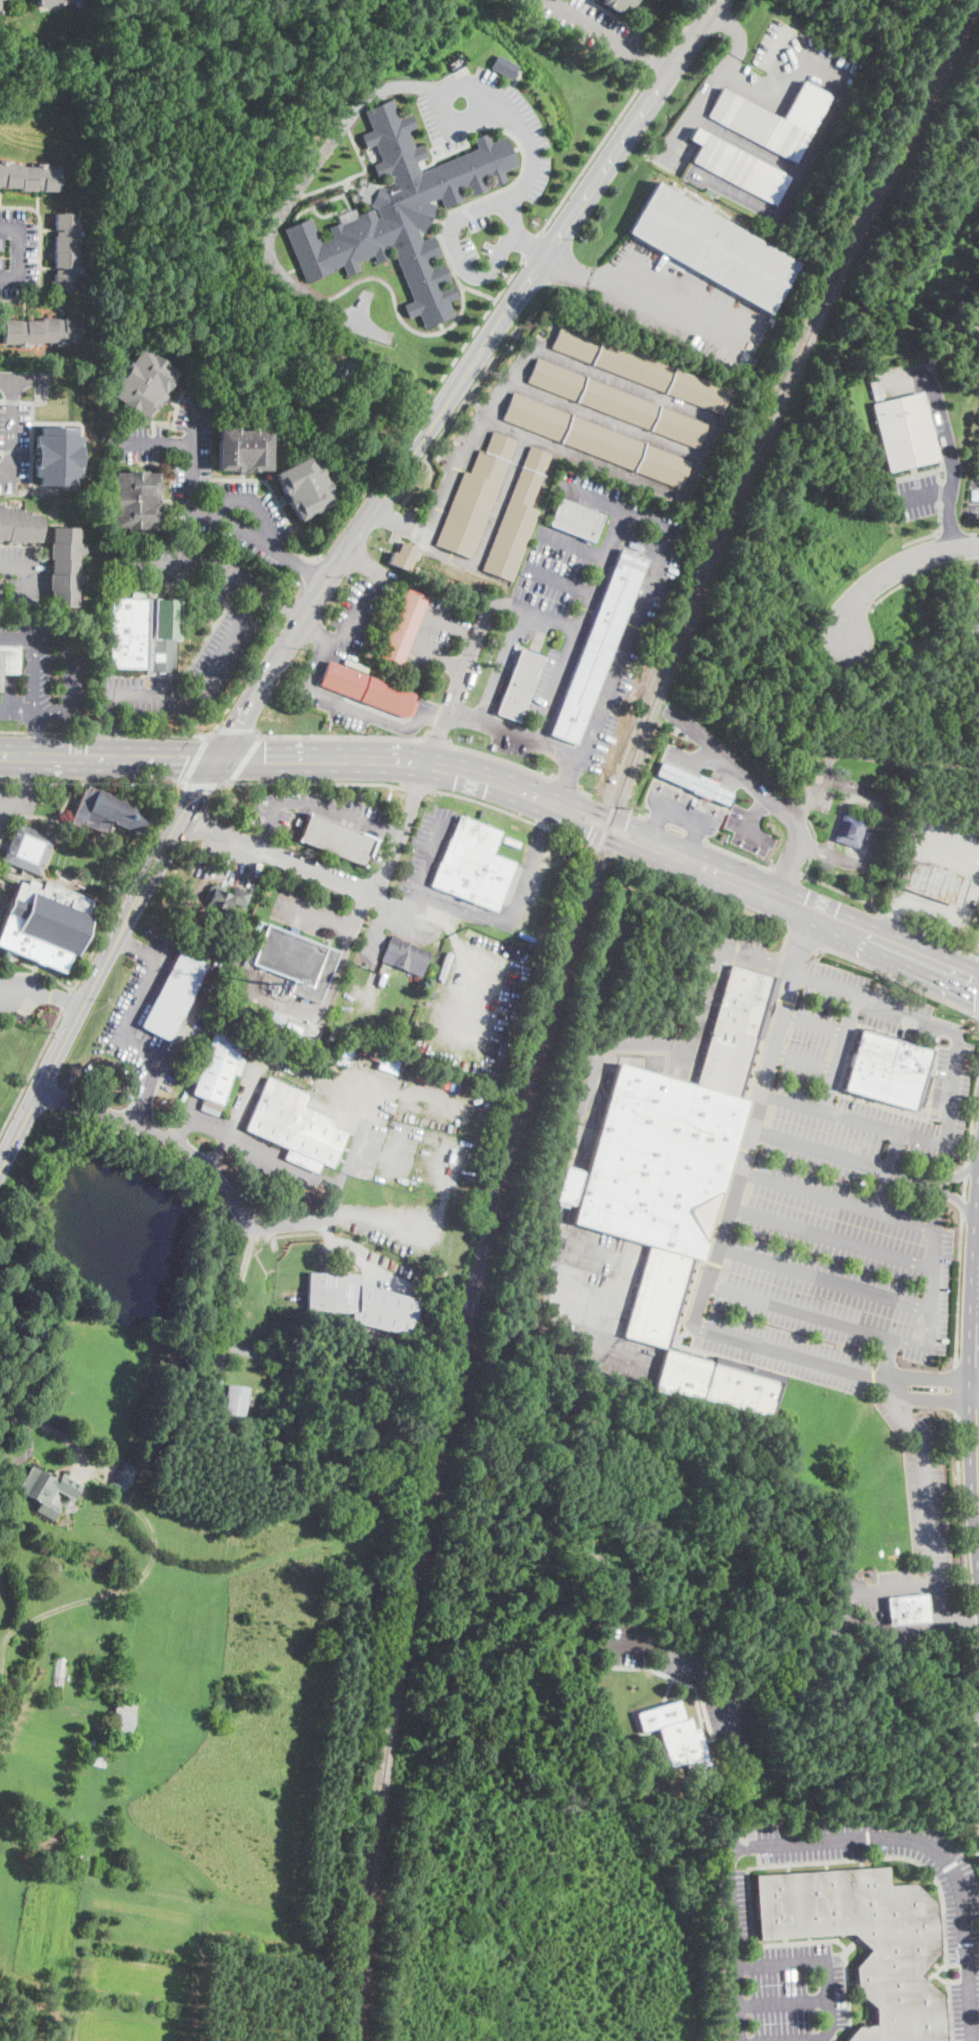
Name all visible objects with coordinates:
building: (52, 2)
building: (618, 4)
parking lot: (590, 26)
road: (680, 28)
road: (606, 38)
building: (502, 66)
road: (654, 66)
road: (717, 83)
road: (492, 96)
road: (785, 97)
parking lot: (484, 118)
building: (773, 118)
road: (593, 155)
building: (738, 165)
building: (29, 177)
road: (290, 195)
building: (402, 212)
road: (532, 244)
road: (532, 245)
building: (714, 247)
road: (455, 249)
parking lot: (18, 251)
building: (67, 251)
road: (20, 252)
road: (641, 301)
parking lot: (677, 303)
building: (976, 318)
road: (481, 322)
building: (43, 331)
building: (640, 369)
road: (465, 375)
parking lot: (904, 379)
building: (142, 383)
road: (632, 387)
building: (315, 389)
road: (1, 399)
building: (361, 399)
road: (10, 400)
building: (616, 403)
road: (194, 420)
road: (11, 429)
building: (905, 430)
road: (30, 435)
building: (596, 440)
parking lot: (13, 445)
road: (15, 447)
building: (243, 449)
road: (0, 451)
building: (53, 454)
road: (952, 460)
parking lot: (198, 461)
building: (304, 487)
parking lot: (918, 495)
road: (925, 495)
building: (475, 497)
parking lot: (973, 498)
road: (255, 499)
parking lot: (607, 499)
building: (134, 500)
road: (199, 512)
building: (517, 518)
building: (576, 520)
parking lot: (247, 521)
road: (342, 525)
building: (19, 526)
road: (933, 533)
road: (570, 544)
building: (402, 557)
road: (364, 561)
road: (13, 566)
building: (66, 566)
road: (893, 570)
road: (310, 572)
road: (922, 573)
parking lot: (21, 577)
parking lot: (550, 577)
road: (556, 578)
road: (26, 585)
road: (645, 593)
road: (299, 594)
road: (279, 608)
road: (533, 612)
road: (285, 614)
parking lot: (353, 617)
road: (243, 620)
road: (575, 622)
building: (403, 627)
parking lot: (9, 630)
building: (139, 630)
road: (423, 631)
road: (18, 633)
road: (318, 634)
parking lot: (432, 634)
parking lot: (633, 638)
parking lot: (227, 643)
building: (599, 644)
road: (68, 659)
building: (9, 661)
road: (502, 664)
road: (8, 672)
road: (35, 673)
parking lot: (50, 673)
parking lot: (552, 681)
road: (244, 683)
road: (308, 684)
building: (519, 684)
building: (367, 690)
parking lot: (332, 702)
parking lot: (11, 710)
road: (16, 711)
road: (49, 711)
road: (434, 715)
road: (110, 727)
road: (236, 728)
road: (46, 732)
road: (32, 733)
road: (109, 733)
road: (165, 734)
road: (342, 735)
road: (437, 735)
road: (535, 740)
road: (435, 743)
parking lot: (510, 744)
road: (869, 755)
road: (245, 756)
road: (110, 757)
traffic signals: (222, 757)
road: (501, 758)
road: (394, 759)
road: (195, 760)
road: (24, 778)
road: (82, 780)
road: (564, 780)
road: (226, 781)
road: (312, 782)
building: (694, 784)
road: (200, 785)
road: (418, 788)
road: (582, 791)
road: (764, 791)
parking lot: (20, 801)
road: (14, 803)
road: (316, 803)
road: (3, 806)
road: (499, 807)
parking lot: (318, 809)
road: (755, 811)
building: (107, 812)
road: (606, 814)
road: (838, 814)
road: (682, 815)
road: (207, 817)
road: (547, 817)
road: (645, 817)
road: (3, 819)
road: (657, 821)
road: (656, 825)
road: (811, 827)
road: (676, 830)
building: (850, 830)
road: (875, 831)
road: (393, 832)
road: (196, 833)
road: (752, 833)
road: (597, 835)
road: (695, 837)
road: (264, 840)
building: (337, 840)
road: (694, 841)
road: (812, 848)
building: (28, 849)
road: (240, 850)
road: (949, 851)
road: (739, 855)
road: (232, 856)
road: (381, 860)
road: (301, 864)
parking lot: (228, 865)
building: (473, 865)
road: (807, 866)
parking lot: (542, 867)
road: (784, 870)
building: (932, 882)
gas station: (932, 882)
road: (119, 885)
road: (841, 889)
road: (412, 896)
road: (710, 896)
building: (225, 898)
road: (384, 902)
road: (469, 907)
road: (938, 908)
road: (317, 909)
road: (812, 910)
parking lot: (305, 912)
road: (378, 917)
road: (892, 918)
road: (456, 919)
building: (45, 924)
road: (506, 929)
parking lot: (384, 932)
road: (433, 934)
road: (941, 942)
road: (803, 944)
parking lot: (738, 945)
road: (130, 946)
road: (342, 953)
building: (405, 955)
road: (756, 959)
road: (107, 960)
building: (296, 961)
building: (445, 965)
road: (469, 977)
road: (898, 979)
traffic signals: (975, 981)
railway: (554, 987)
parking lot: (17, 990)
road: (22, 994)
building: (175, 996)
road: (64, 997)
road: (270, 998)
road: (67, 1001)
parking lot: (475, 1002)
parking lot: (128, 1013)
building: (276, 1019)
road: (814, 1024)
road: (123, 1031)
road: (184, 1034)
road: (840, 1053)
building: (381, 1059)
road: (803, 1062)
road: (279, 1066)
parking lot: (805, 1067)
building: (218, 1070)
building: (888, 1071)
road: (31, 1072)
road: (950, 1097)
road: (138, 1110)
road: (753, 1117)
road: (973, 1117)
road: (188, 1120)
parking lot: (406, 1125)
building: (296, 1127)
road: (571, 1133)
road: (352, 1150)
road: (261, 1156)
road: (837, 1156)
building: (670, 1157)
road: (447, 1167)
road: (967, 1170)
road: (888, 1171)
road: (952, 1175)
road: (221, 1187)
road: (965, 1189)
road: (953, 1196)
road: (963, 1208)
road: (309, 1220)
road: (830, 1237)
parking lot: (410, 1242)
road: (585, 1249)
road: (351, 1253)
road: (972, 1275)
road: (824, 1278)
parking lot: (831, 1279)
road: (623, 1281)
road: (959, 1289)
road: (588, 1291)
parking lot: (592, 1296)
road: (931, 1299)
building: (362, 1302)
road: (788, 1352)
road: (888, 1359)
road: (930, 1377)
building: (715, 1384)
road: (957, 1390)
building: (237, 1399)
road: (927, 1401)
building: (287, 1412)
road: (26, 1450)
road: (97, 1464)
building: (125, 1474)
building: (49, 1490)
parking lot: (927, 1505)
road: (927, 1505)
road: (961, 1512)
building: (58, 1566)
road: (147, 1567)
road: (845, 1608)
building: (907, 1609)
road: (970, 1620)
road: (958, 1622)
road: (693, 1661)
road: (975, 1672)
parking lot: (683, 1673)
building: (57, 1680)
building: (13, 1689)
building: (123, 1718)
building: (677, 1738)
building: (93, 1755)
road: (856, 1768)
building: (650, 1777)
road: (7, 1823)
building: (47, 1841)
road: (840, 1841)
building: (79, 1864)
crop: (143, 1905)
parking lot: (962, 1918)
crop: (39, 1926)
building: (866, 1941)
road: (825, 1966)
crop: (137, 1978)
road: (782, 2003)
crop: (127, 2027)
road: (815, 2040)

